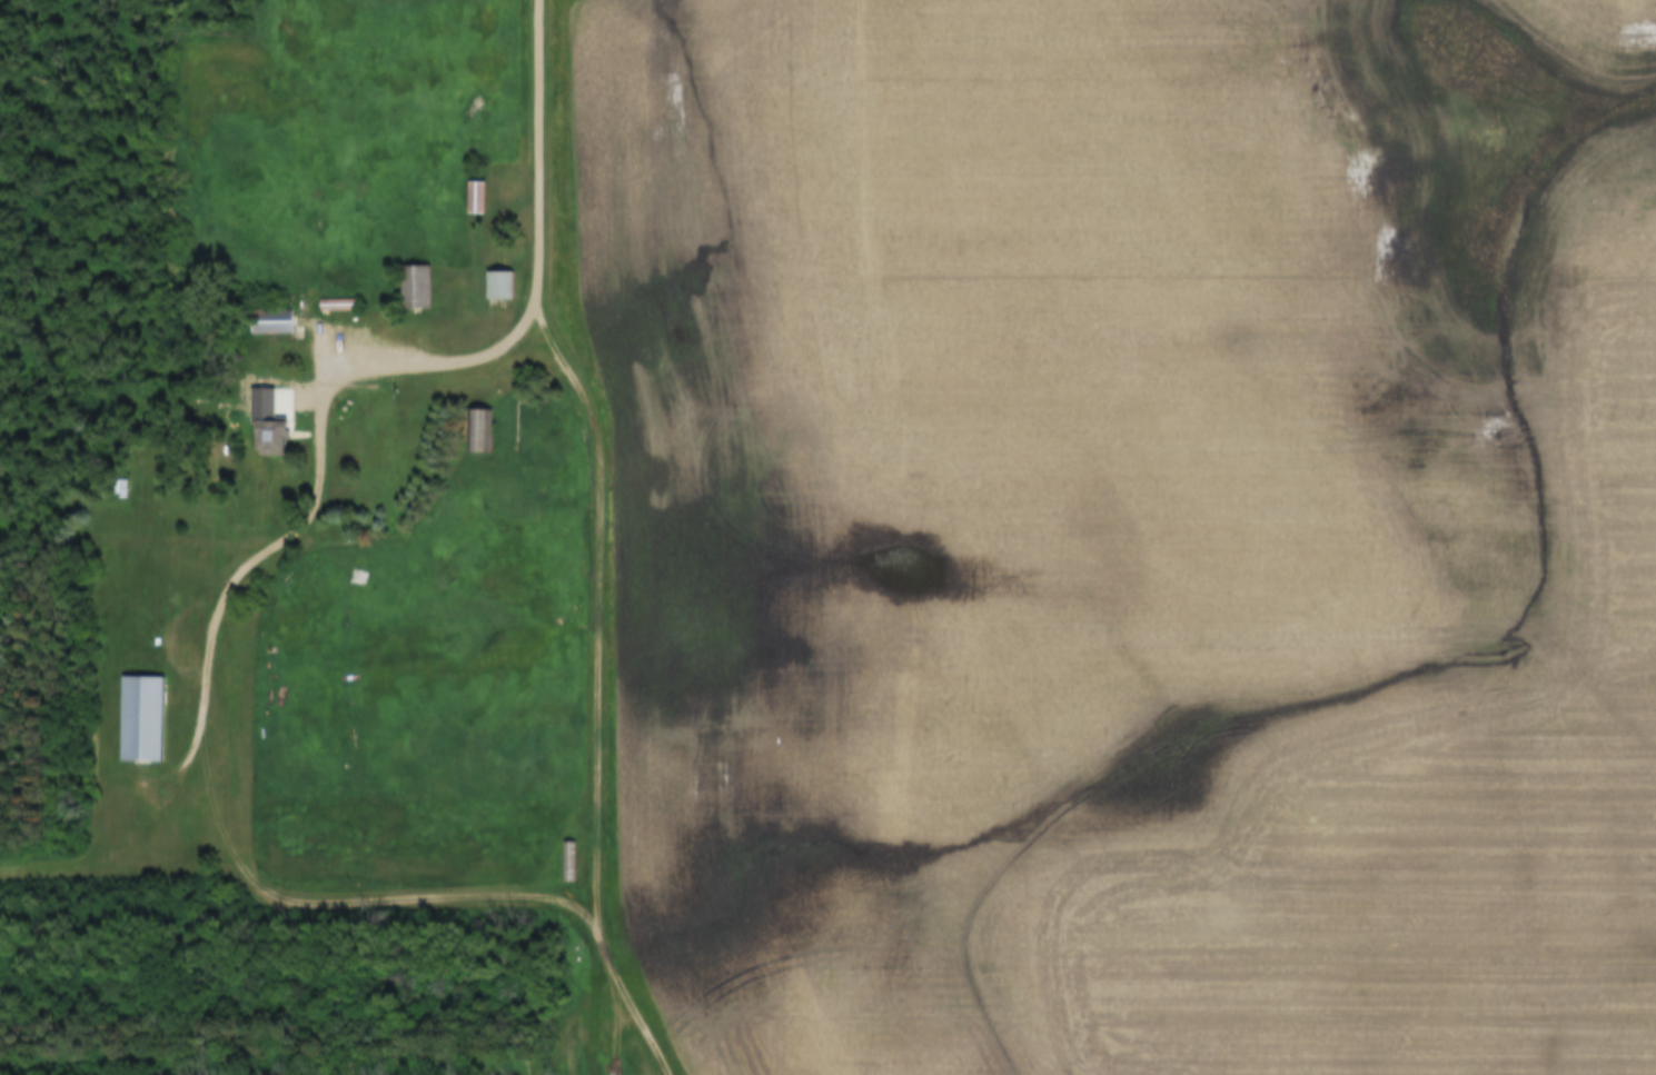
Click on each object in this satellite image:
building: (473, 198)
building: (495, 286)
building: (413, 288)
building: (267, 322)
building: (475, 431)
building: (265, 437)
road: (598, 464)
building: (116, 490)
road: (208, 686)
building: (138, 720)
road: (132, 827)
building: (567, 860)
road: (591, 1009)
road: (634, 1011)

